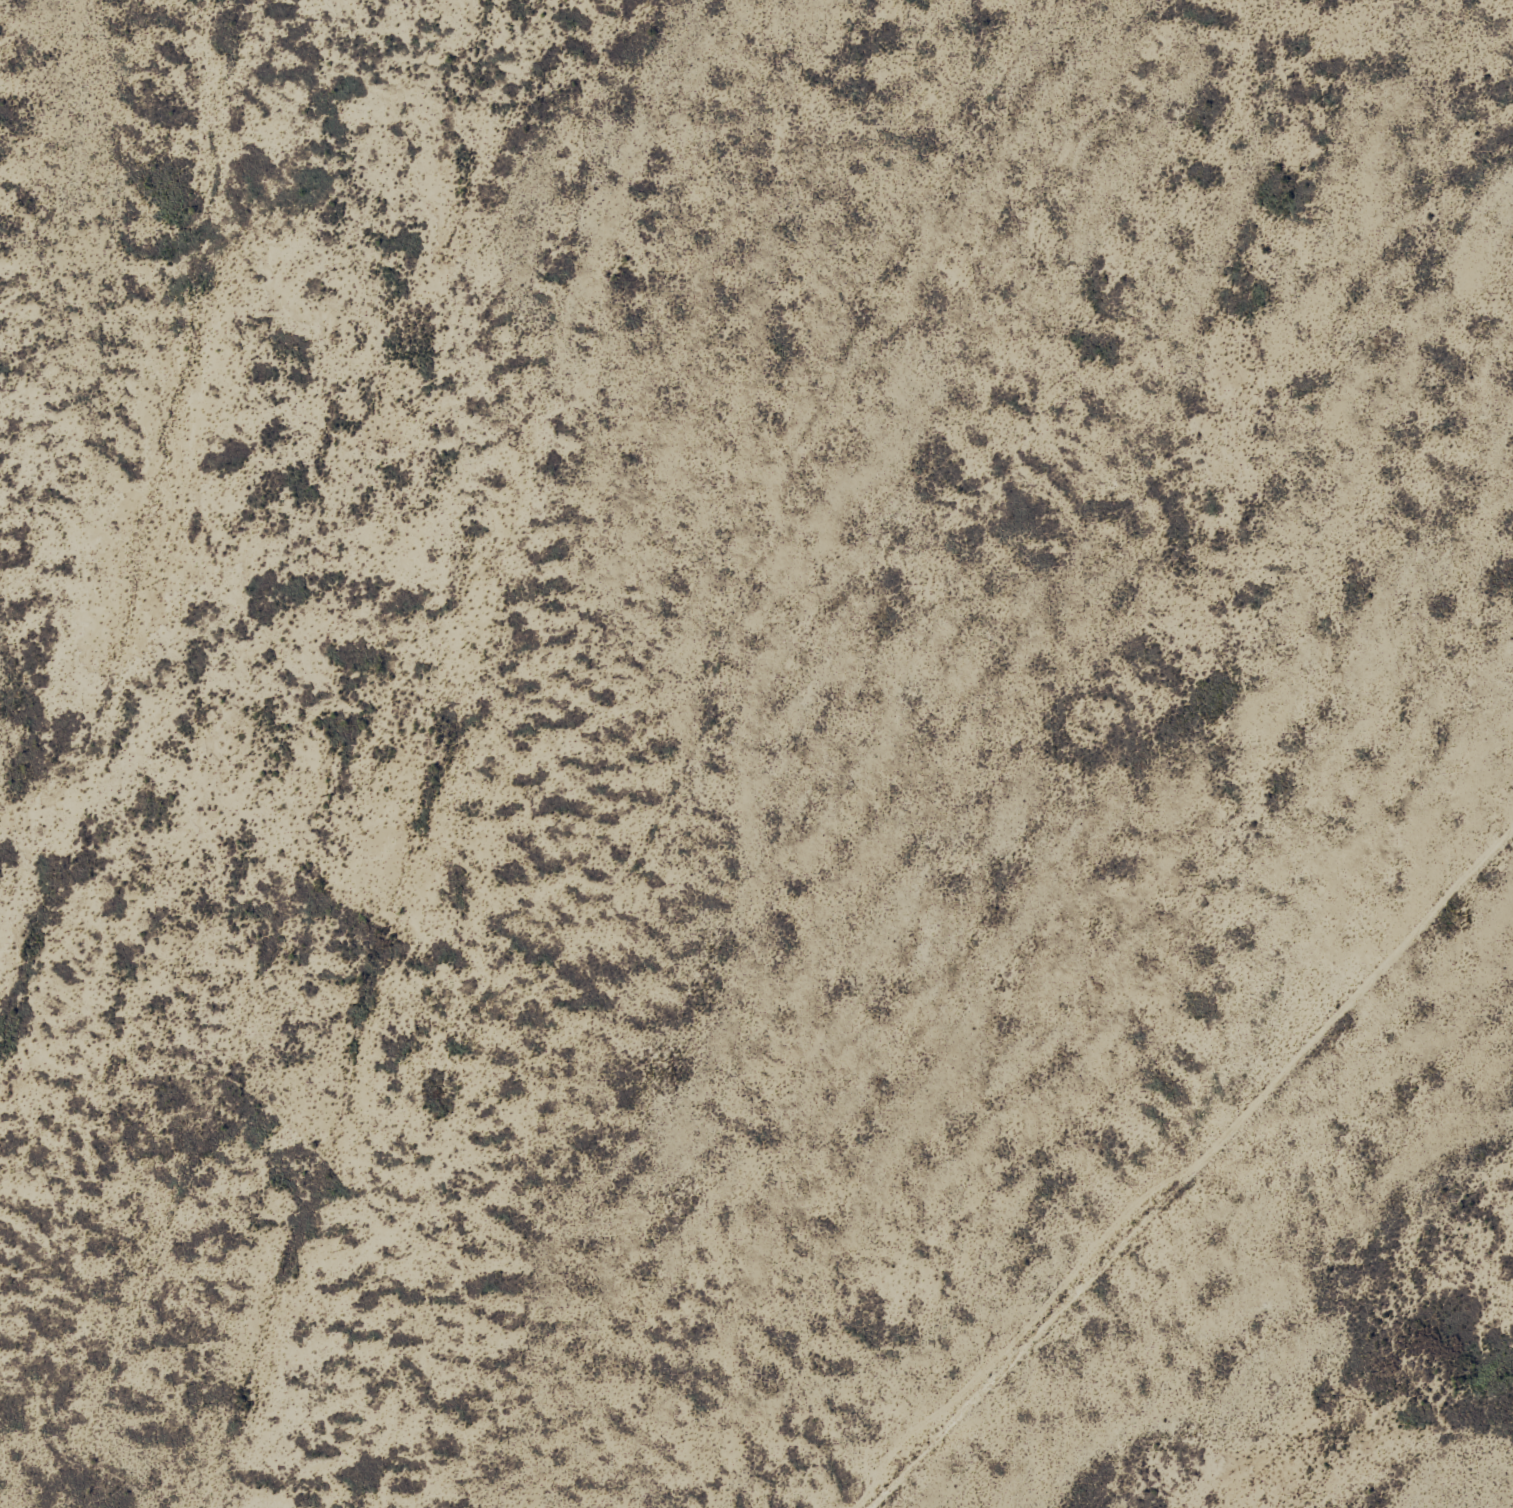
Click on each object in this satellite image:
road: (466, 731)

